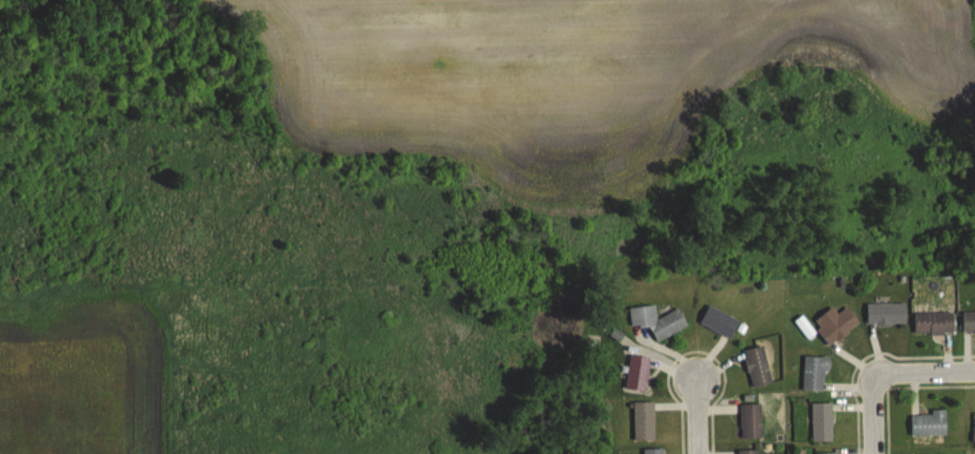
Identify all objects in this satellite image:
building: (885, 313)
building: (656, 321)
building: (719, 322)
building: (968, 322)
building: (933, 323)
building: (836, 324)
building: (757, 366)
building: (637, 373)
building: (814, 373)
road: (925, 375)
road: (875, 415)
road: (701, 417)
building: (643, 421)
building: (751, 421)
building: (821, 422)
building: (928, 424)
building: (653, 451)
building: (747, 452)

